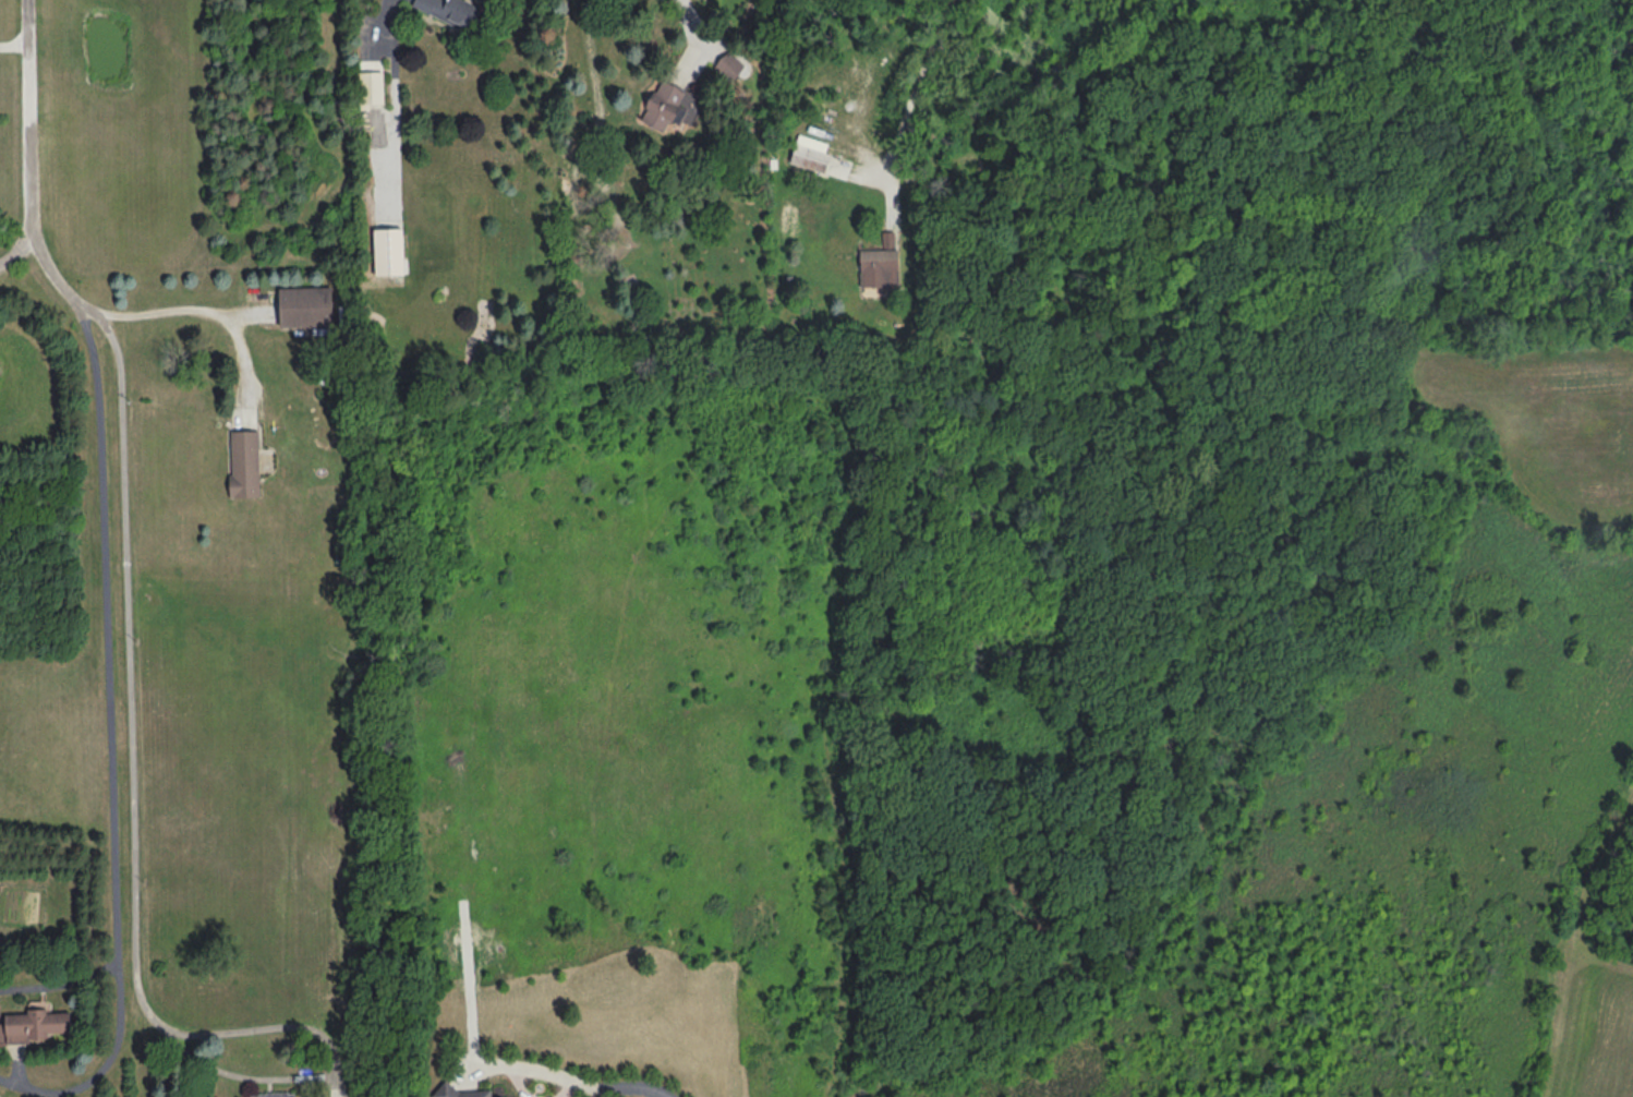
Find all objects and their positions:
building: (452, 11)
road: (697, 17)
road: (385, 23)
road: (15, 51)
building: (730, 67)
building: (372, 87)
road: (910, 107)
building: (669, 109)
building: (812, 154)
building: (377, 214)
road: (20, 246)
building: (882, 269)
building: (306, 308)
road: (204, 310)
building: (246, 463)
road: (131, 511)
road: (107, 627)
road: (62, 984)
building: (40, 1025)
road: (328, 1065)
road: (102, 1069)
road: (570, 1083)
building: (467, 1093)
building: (273, 1094)

